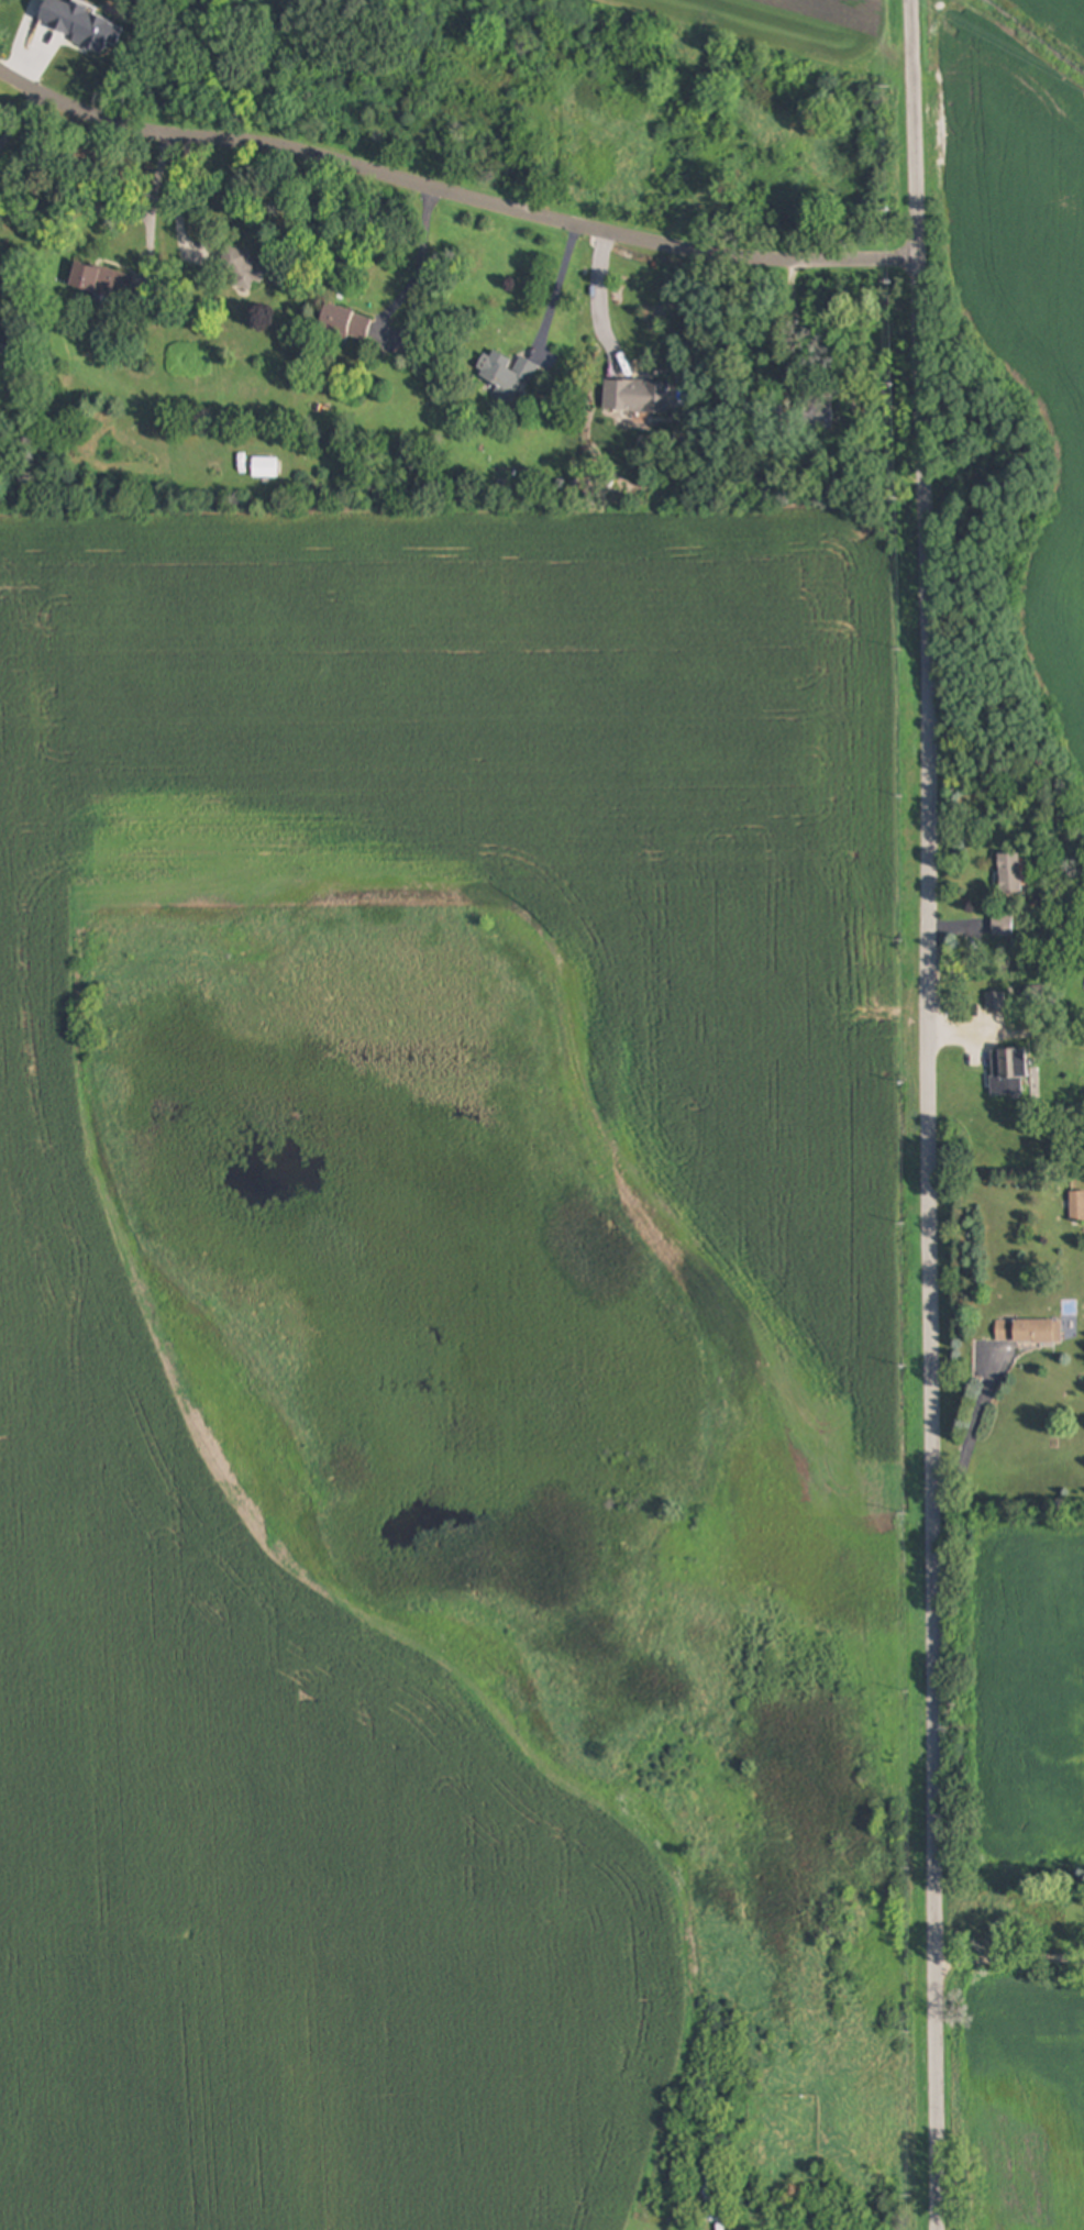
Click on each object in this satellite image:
road: (19, 114)
road: (176, 192)
road: (455, 194)
road: (148, 203)
road: (418, 264)
building: (242, 269)
building: (101, 283)
road: (558, 289)
road: (605, 301)
building: (343, 325)
building: (4, 345)
building: (507, 377)
building: (637, 397)
building: (265, 470)
building: (1010, 874)
building: (1003, 927)
building: (994, 1002)
building: (1008, 1073)
road: (932, 1114)
building: (1076, 1206)
building: (1029, 1332)
road: (1009, 1961)
building: (709, 2182)

